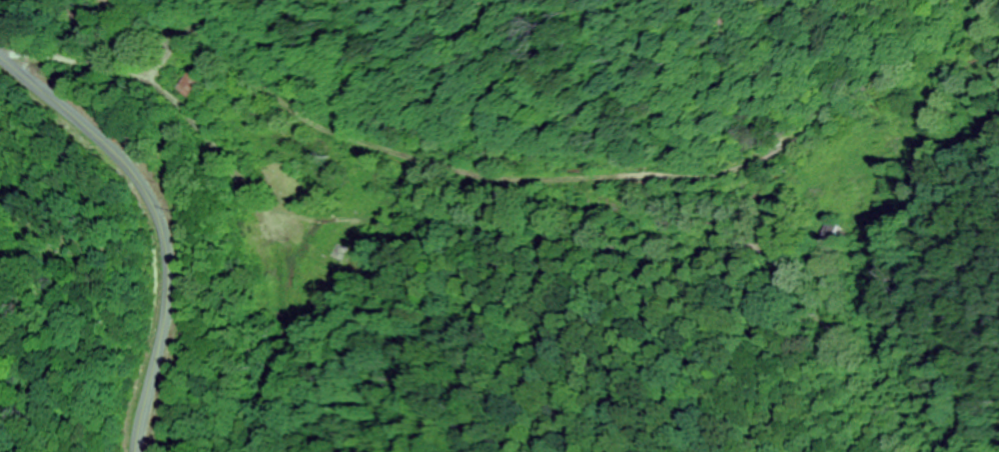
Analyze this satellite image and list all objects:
building: (190, 85)
road: (156, 223)

